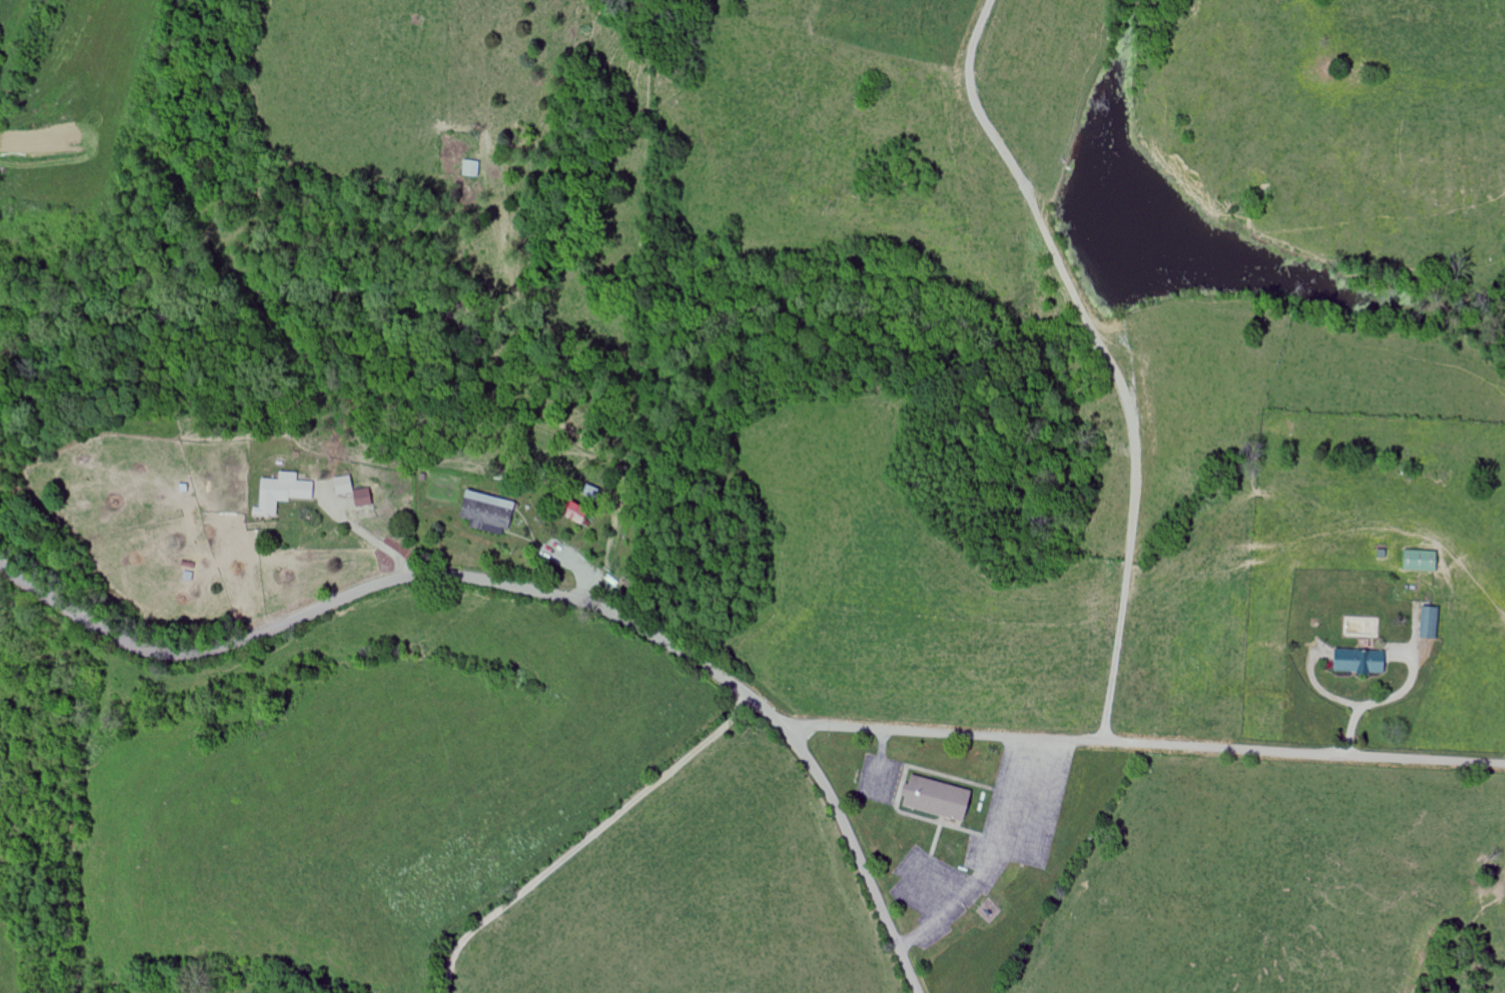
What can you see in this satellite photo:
building: (473, 169)
road: (1101, 355)
building: (346, 485)
building: (284, 493)
building: (365, 498)
building: (577, 512)
building: (490, 513)
road: (373, 540)
building: (1423, 561)
road: (539, 592)
building: (1431, 623)
building: (1362, 662)
road: (1373, 702)
road: (1142, 744)
building: (941, 799)
road: (588, 840)

